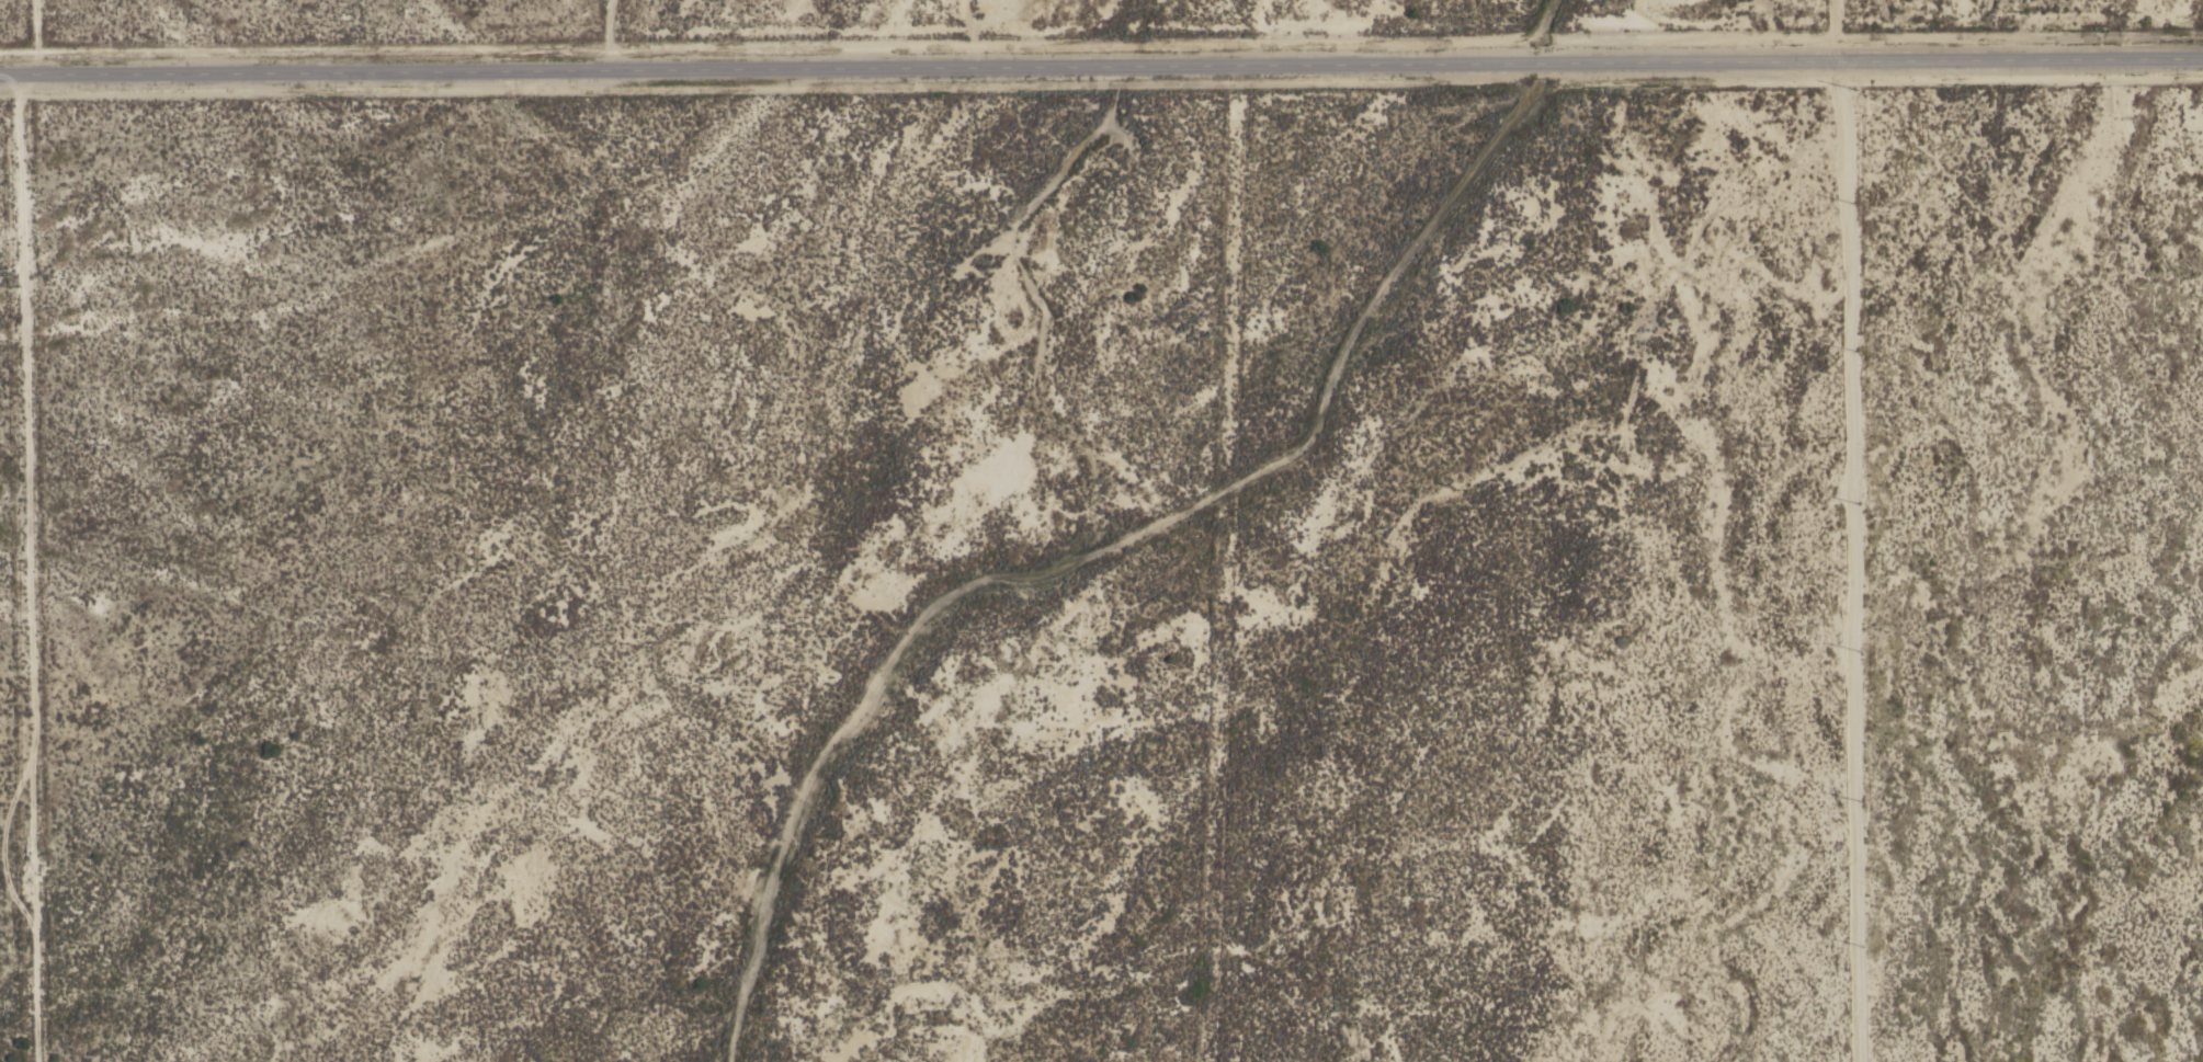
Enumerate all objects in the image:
road: (1101, 60)
railway: (1310, 472)
railway: (1299, 475)
road: (1821, 530)
railway: (1593, 1004)
railway: (1582, 1006)

